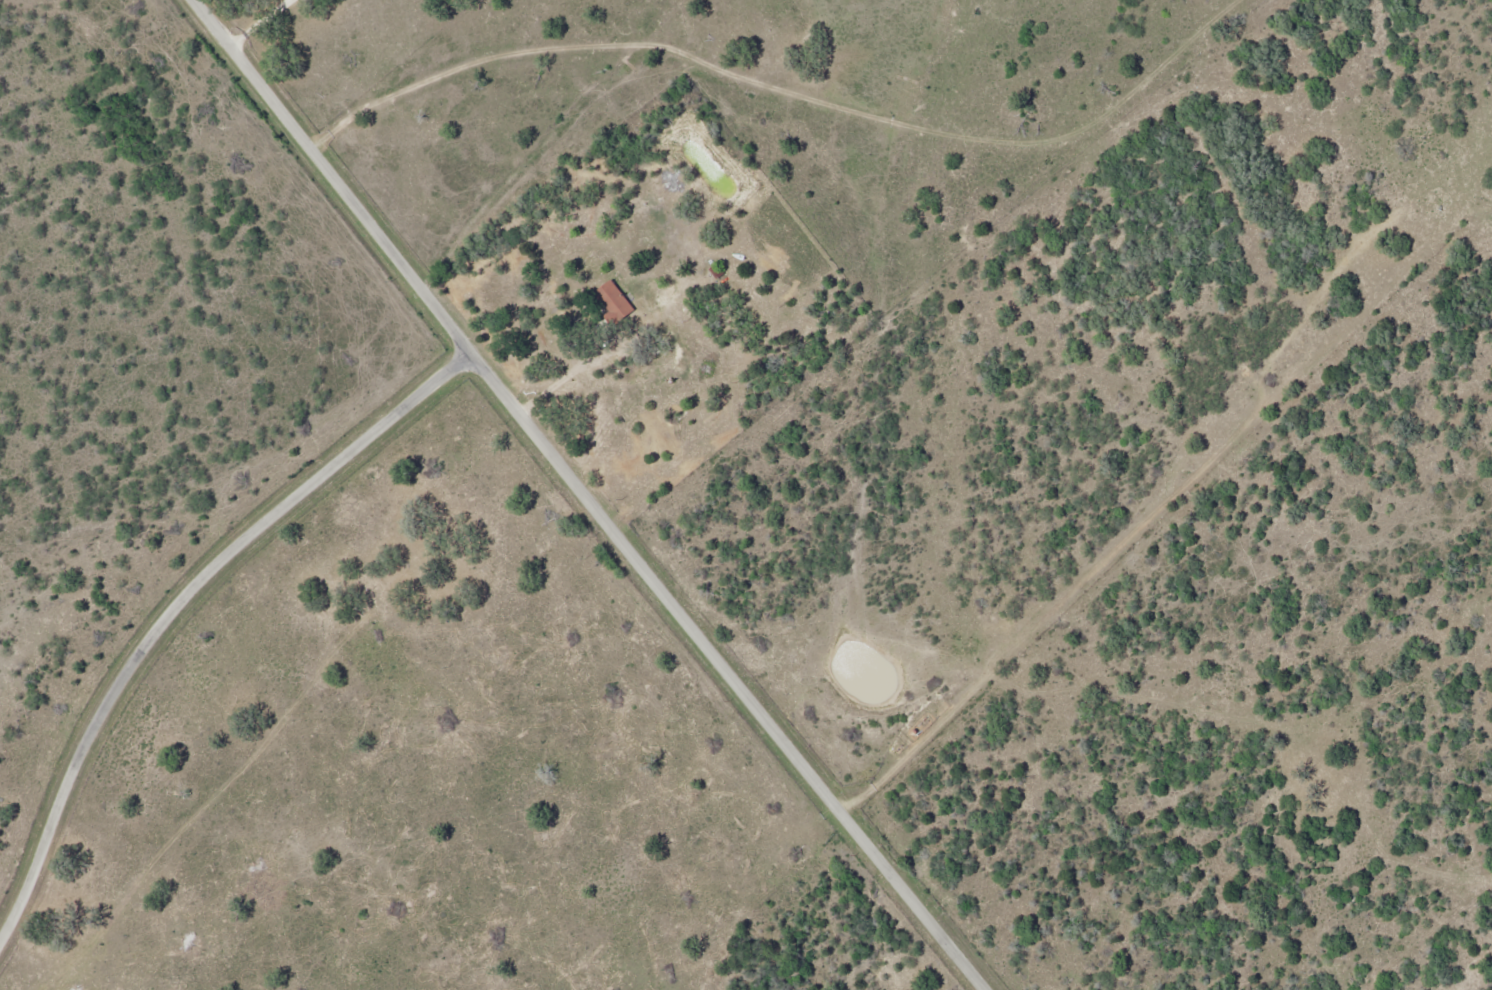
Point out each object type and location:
road: (265, 21)
building: (617, 304)
road: (589, 498)
road: (180, 607)

